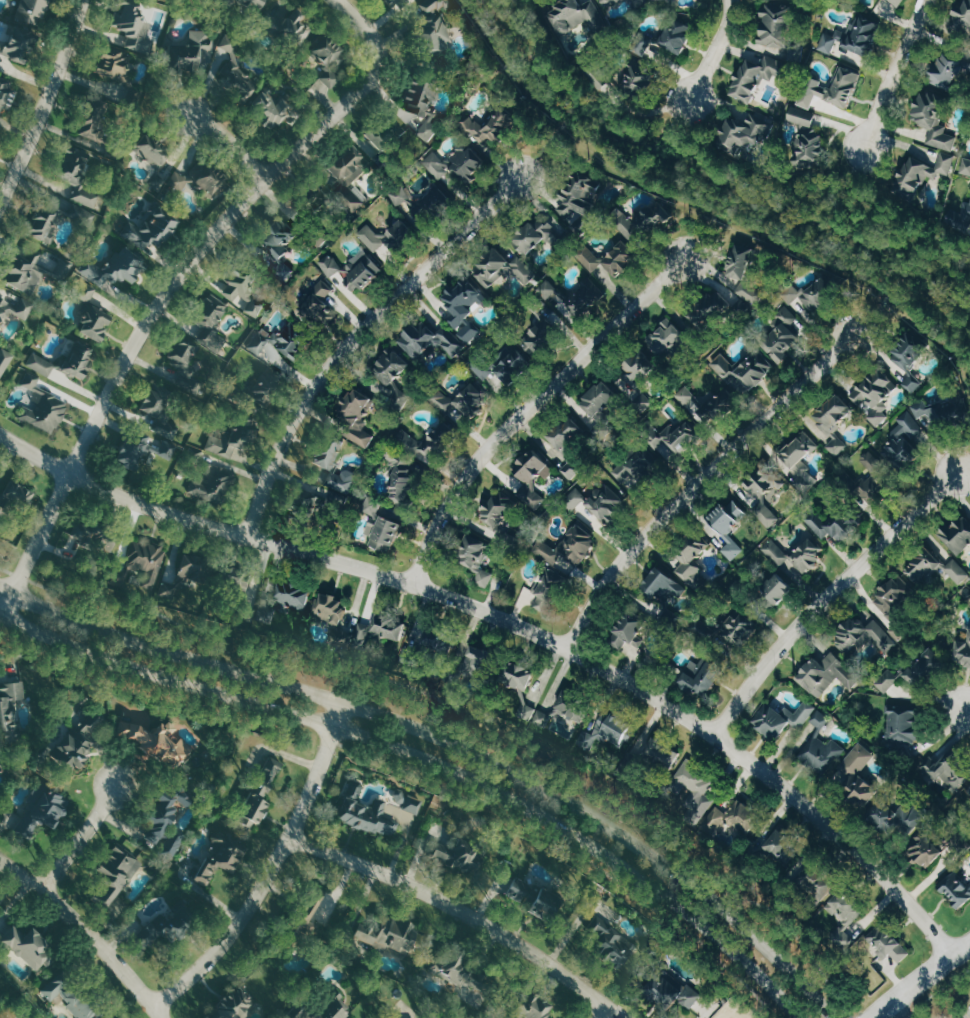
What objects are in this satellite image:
building: (603, 0)
building: (411, 1)
building: (900, 1)
building: (638, 2)
building: (255, 3)
building: (395, 3)
building: (33, 11)
building: (573, 14)
building: (964, 14)
road: (359, 21)
building: (778, 22)
building: (435, 25)
building: (135, 28)
building: (296, 28)
building: (679, 36)
building: (855, 38)
building: (20, 45)
road: (715, 49)
building: (193, 53)
building: (329, 58)
building: (113, 64)
building: (237, 68)
road: (893, 71)
road: (456, 72)
building: (951, 72)
building: (757, 77)
building: (640, 80)
building: (833, 90)
building: (4, 92)
building: (422, 96)
road: (46, 103)
building: (275, 109)
building: (935, 120)
road: (671, 121)
building: (494, 124)
building: (95, 127)
building: (428, 129)
building: (743, 134)
building: (810, 135)
building: (373, 136)
road: (546, 142)
building: (153, 149)
road: (229, 149)
building: (966, 167)
building: (458, 169)
building: (80, 174)
building: (924, 174)
building: (351, 175)
road: (714, 177)
building: (209, 179)
building: (179, 181)
road: (856, 188)
building: (581, 202)
building: (316, 203)
building: (422, 203)
building: (84, 215)
building: (652, 218)
road: (707, 222)
building: (46, 224)
building: (153, 228)
building: (539, 238)
building: (280, 246)
building: (622, 257)
building: (591, 258)
building: (119, 268)
building: (355, 269)
building: (495, 269)
building: (25, 274)
building: (747, 276)
building: (88, 291)
building: (244, 292)
building: (578, 295)
building: (101, 300)
road: (881, 302)
building: (14, 305)
road: (162, 305)
building: (318, 307)
building: (466, 309)
building: (711, 311)
building: (798, 318)
building: (212, 322)
building: (96, 323)
building: (543, 330)
road: (357, 335)
building: (672, 339)
building: (285, 340)
building: (432, 340)
building: (185, 357)
building: (78, 360)
building: (5, 361)
building: (911, 361)
building: (41, 364)
building: (516, 365)
building: (483, 368)
building: (744, 372)
building: (395, 375)
building: (641, 381)
building: (261, 388)
building: (685, 395)
building: (877, 395)
building: (158, 399)
building: (463, 402)
building: (720, 403)
building: (45, 406)
road: (529, 407)
building: (605, 407)
building: (836, 414)
building: (946, 414)
building: (360, 416)
building: (166, 428)
building: (446, 430)
building: (678, 437)
building: (908, 437)
building: (231, 439)
building: (409, 441)
building: (839, 444)
building: (432, 446)
building: (571, 449)
building: (140, 454)
building: (194, 454)
building: (395, 461)
building: (802, 463)
building: (336, 466)
road: (963, 467)
building: (535, 468)
building: (640, 468)
building: (876, 478)
building: (214, 482)
building: (407, 482)
road: (699, 482)
building: (20, 495)
building: (766, 495)
building: (531, 496)
building: (574, 497)
building: (311, 501)
building: (608, 503)
building: (373, 506)
building: (832, 525)
building: (731, 526)
building: (386, 533)
building: (94, 536)
building: (960, 536)
building: (578, 546)
building: (776, 552)
building: (810, 555)
building: (694, 558)
building: (481, 561)
building: (144, 568)
building: (937, 568)
building: (197, 573)
building: (237, 586)
building: (666, 588)
building: (780, 589)
building: (547, 591)
building: (295, 595)
road: (828, 596)
building: (895, 596)
building: (331, 608)
building: (266, 616)
road: (514, 623)
building: (740, 627)
building: (634, 629)
building: (379, 630)
building: (341, 633)
building: (868, 635)
building: (430, 640)
building: (964, 653)
building: (482, 665)
building: (828, 674)
building: (703, 676)
building: (524, 688)
building: (10, 705)
building: (574, 708)
road: (967, 711)
road: (468, 715)
building: (543, 719)
building: (784, 719)
building: (821, 719)
building: (904, 726)
building: (612, 730)
road: (450, 742)
building: (80, 743)
building: (823, 753)
building: (663, 754)
road: (426, 759)
building: (2, 765)
building: (948, 769)
building: (859, 779)
building: (695, 784)
building: (969, 789)
building: (261, 792)
building: (409, 801)
building: (44, 810)
building: (367, 812)
building: (897, 816)
building: (733, 817)
building: (169, 821)
road: (82, 838)
building: (782, 845)
building: (927, 849)
building: (461, 854)
building: (222, 856)
road: (274, 869)
building: (116, 874)
building: (818, 878)
building: (958, 889)
building: (532, 898)
building: (0, 902)
road: (466, 911)
building: (848, 911)
building: (319, 914)
building: (576, 923)
road: (90, 931)
building: (162, 931)
building: (391, 933)
building: (611, 942)
building: (30, 945)
building: (889, 945)
building: (460, 971)
road: (919, 977)
road: (934, 991)
building: (70, 993)
building: (680, 995)
building: (236, 1005)
building: (537, 1006)
road: (901, 1007)
building: (336, 1008)
parking lot: (963, 1012)
road: (607, 1013)
building: (399, 1015)

